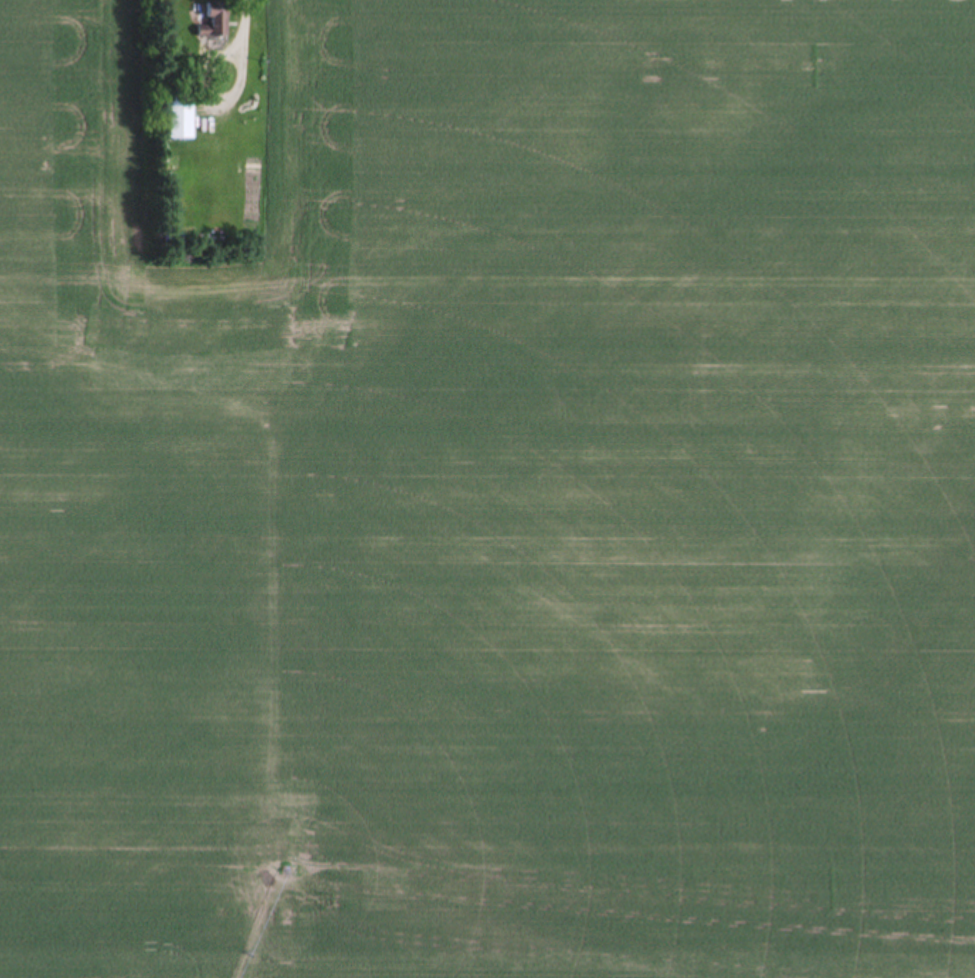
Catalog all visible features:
building: (217, 22)
road: (260, 25)
building: (182, 115)
crop: (496, 500)

